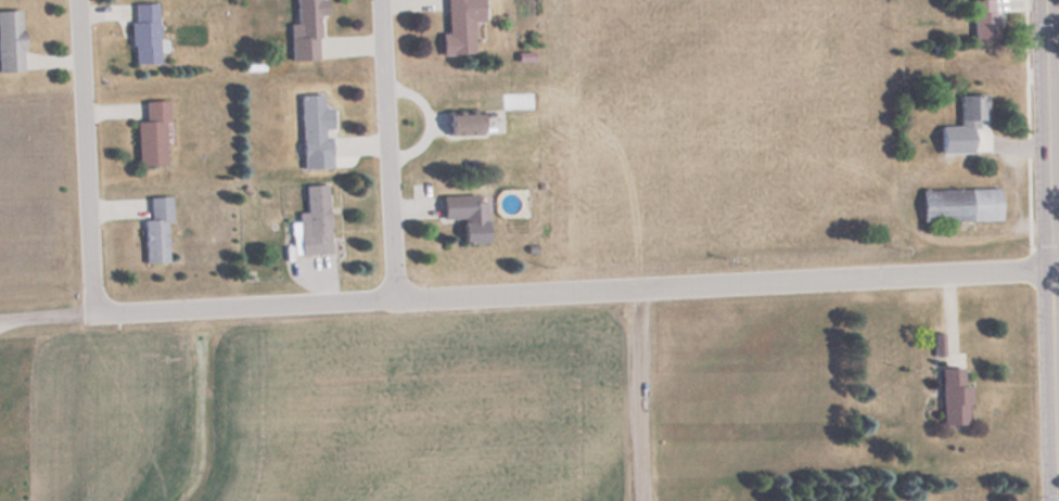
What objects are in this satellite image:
building: (981, 18)
building: (458, 26)
building: (304, 29)
building: (143, 33)
building: (9, 41)
building: (984, 65)
building: (968, 114)
building: (461, 124)
building: (312, 125)
building: (150, 134)
road: (385, 150)
road: (79, 155)
building: (956, 205)
building: (464, 216)
building: (314, 220)
building: (155, 230)
road: (1049, 249)
road: (572, 291)
road: (47, 313)
road: (641, 395)
building: (950, 398)

